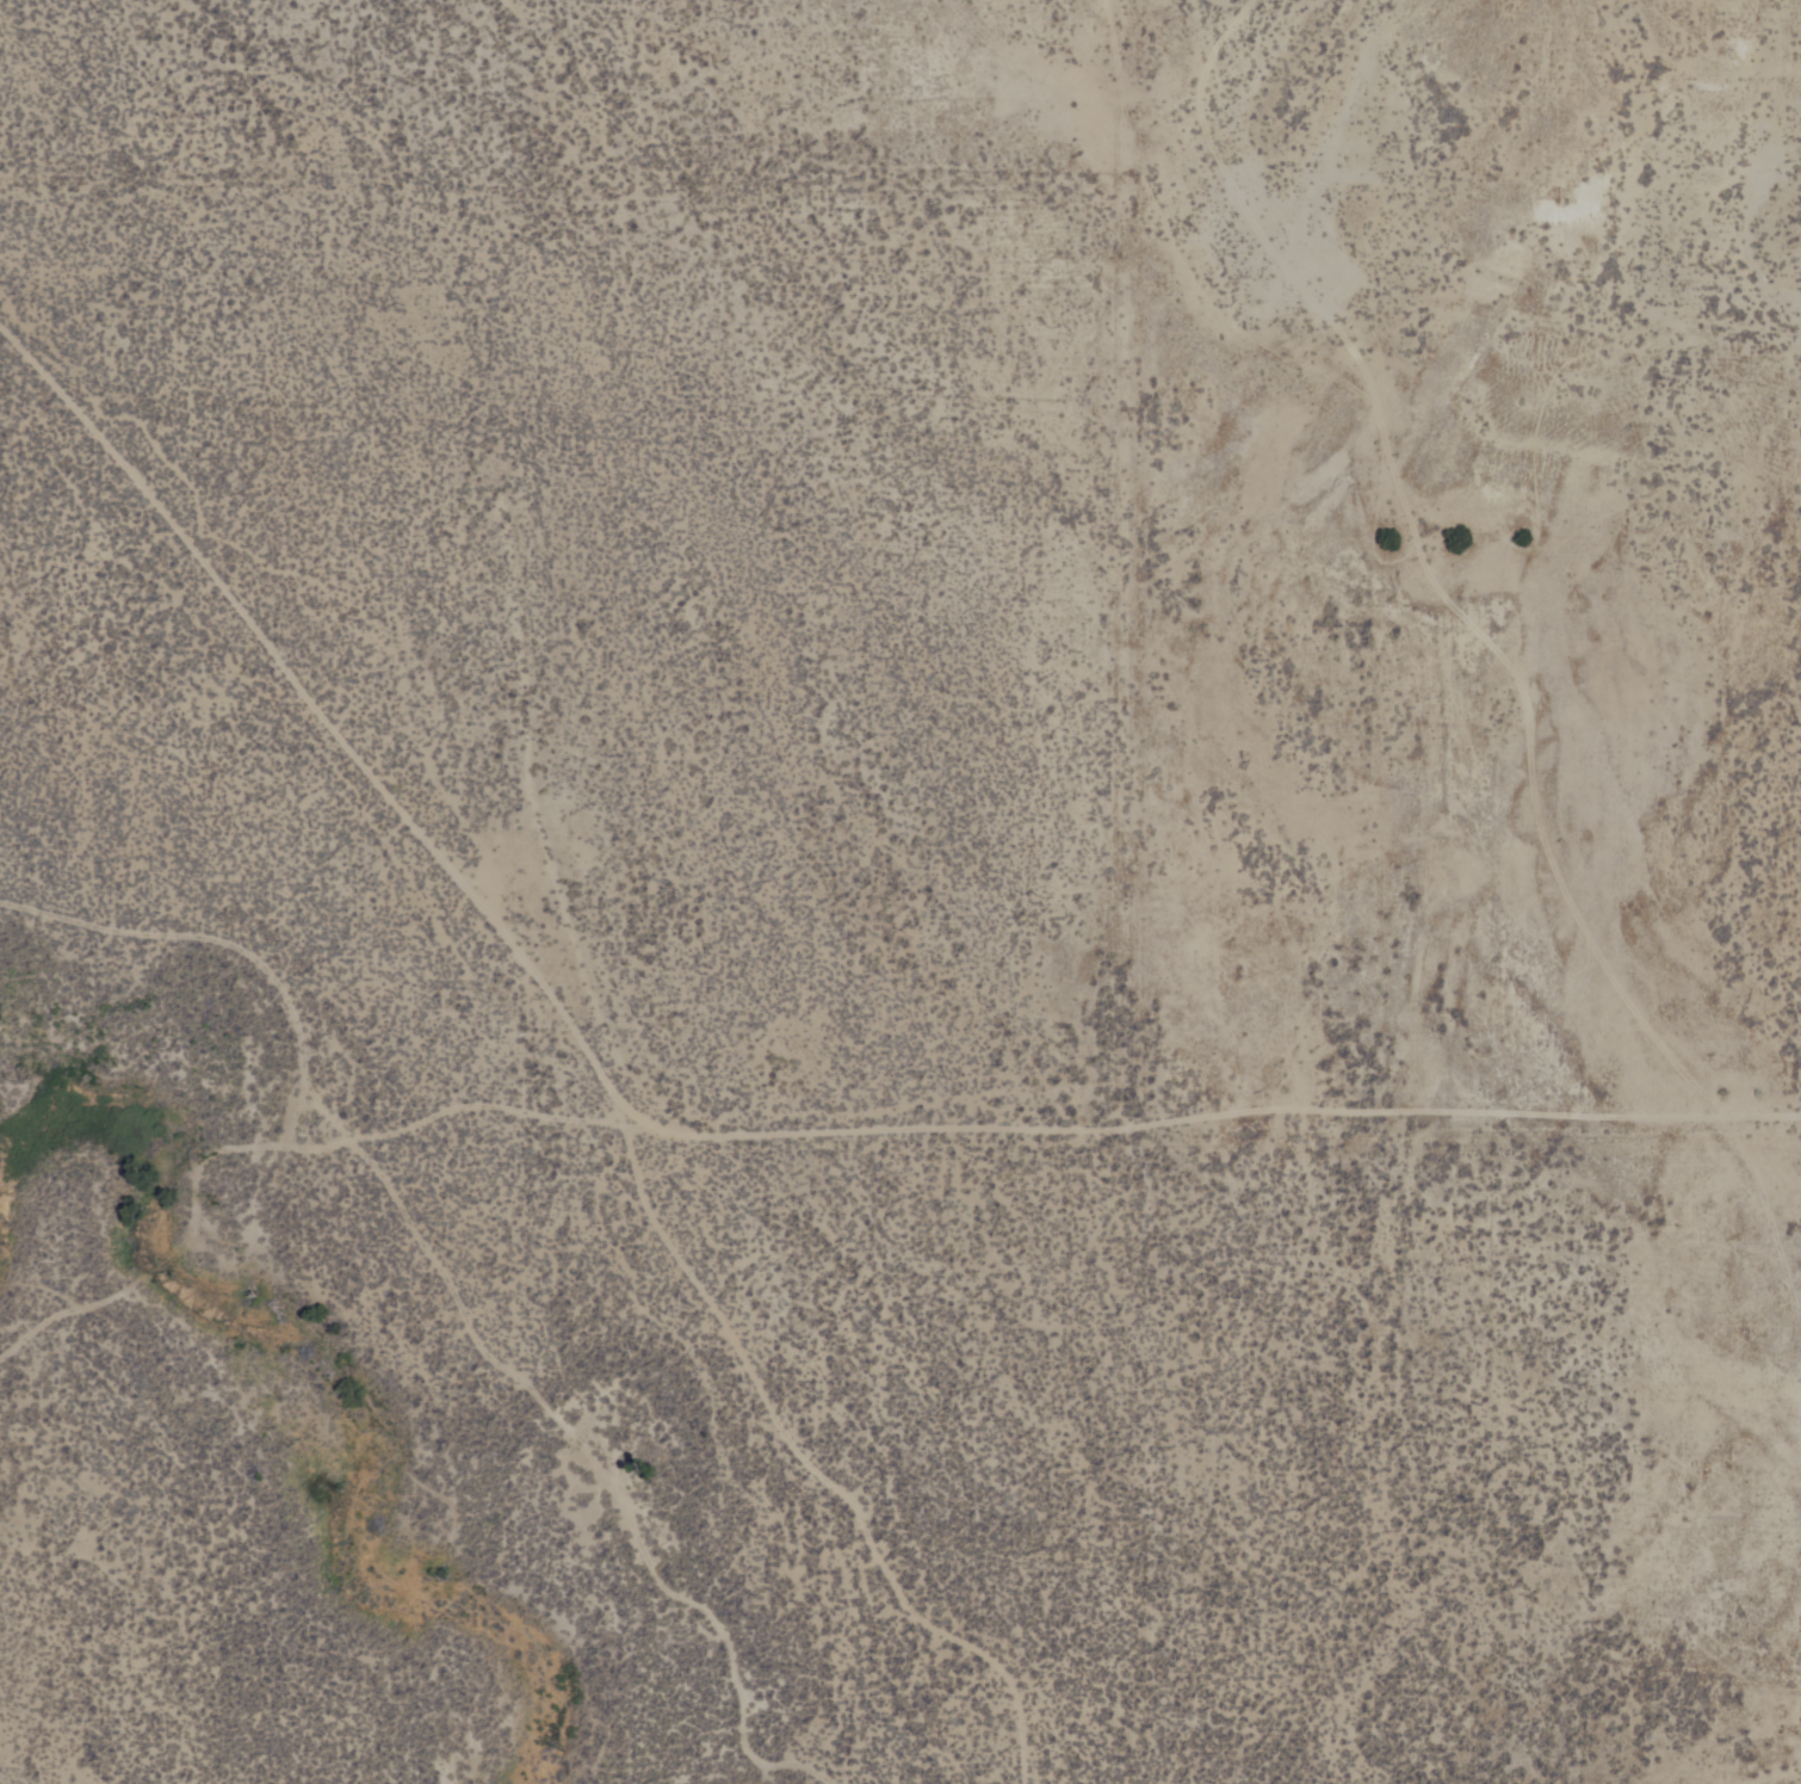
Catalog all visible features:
road: (1214, 103)
road: (574, 1024)
road: (304, 1107)
road: (1046, 1125)
road: (177, 1260)
road: (458, 1292)

